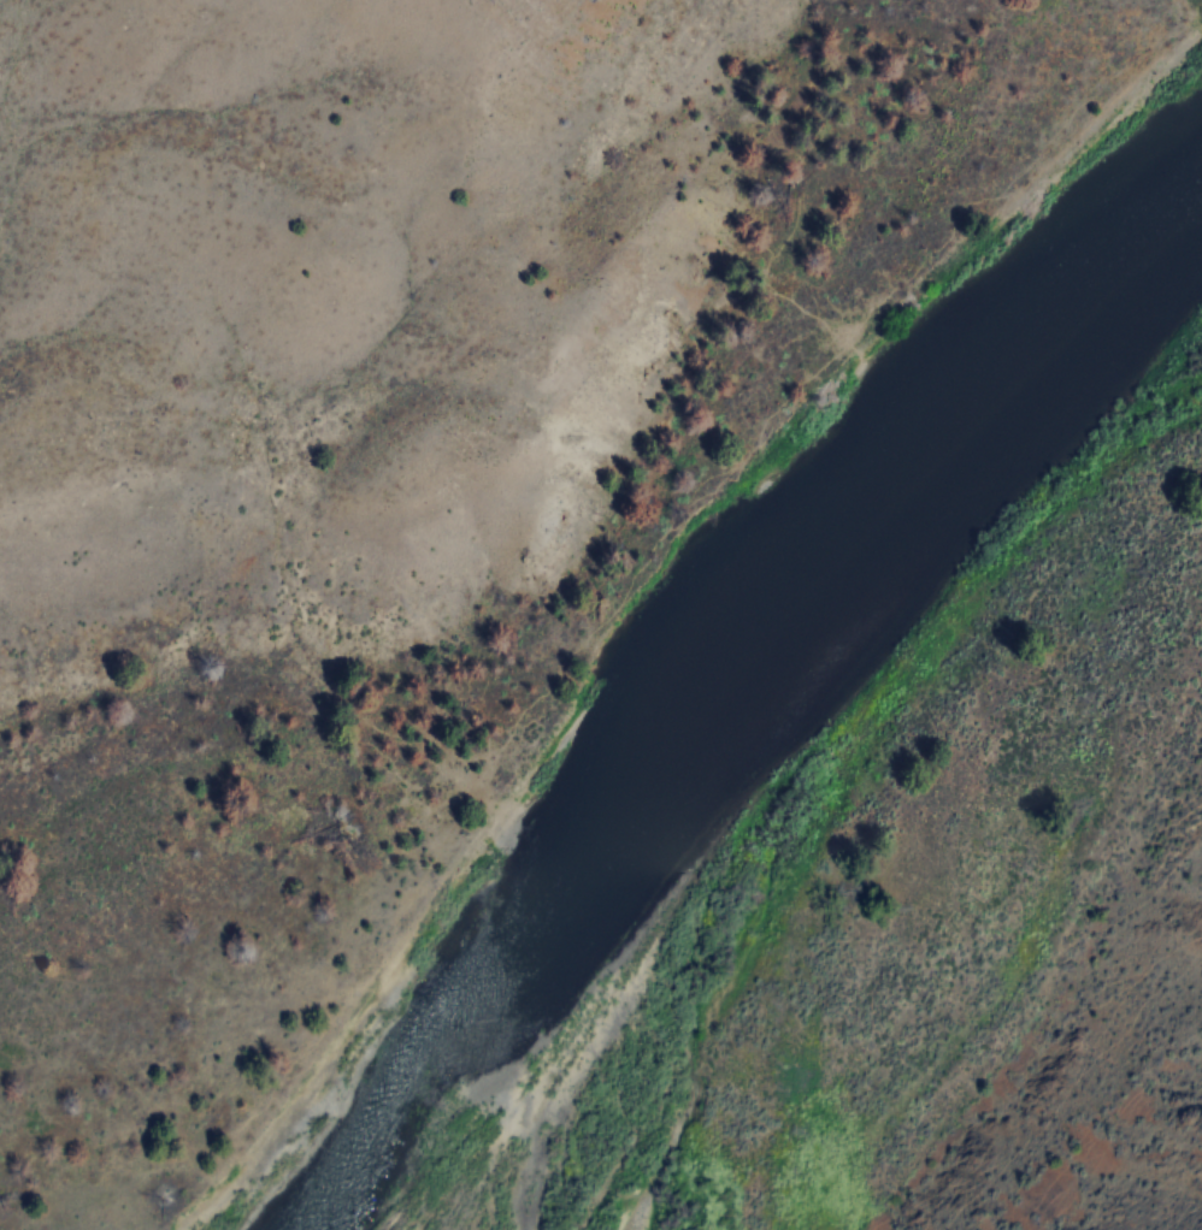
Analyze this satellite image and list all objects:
river: (748, 696)

